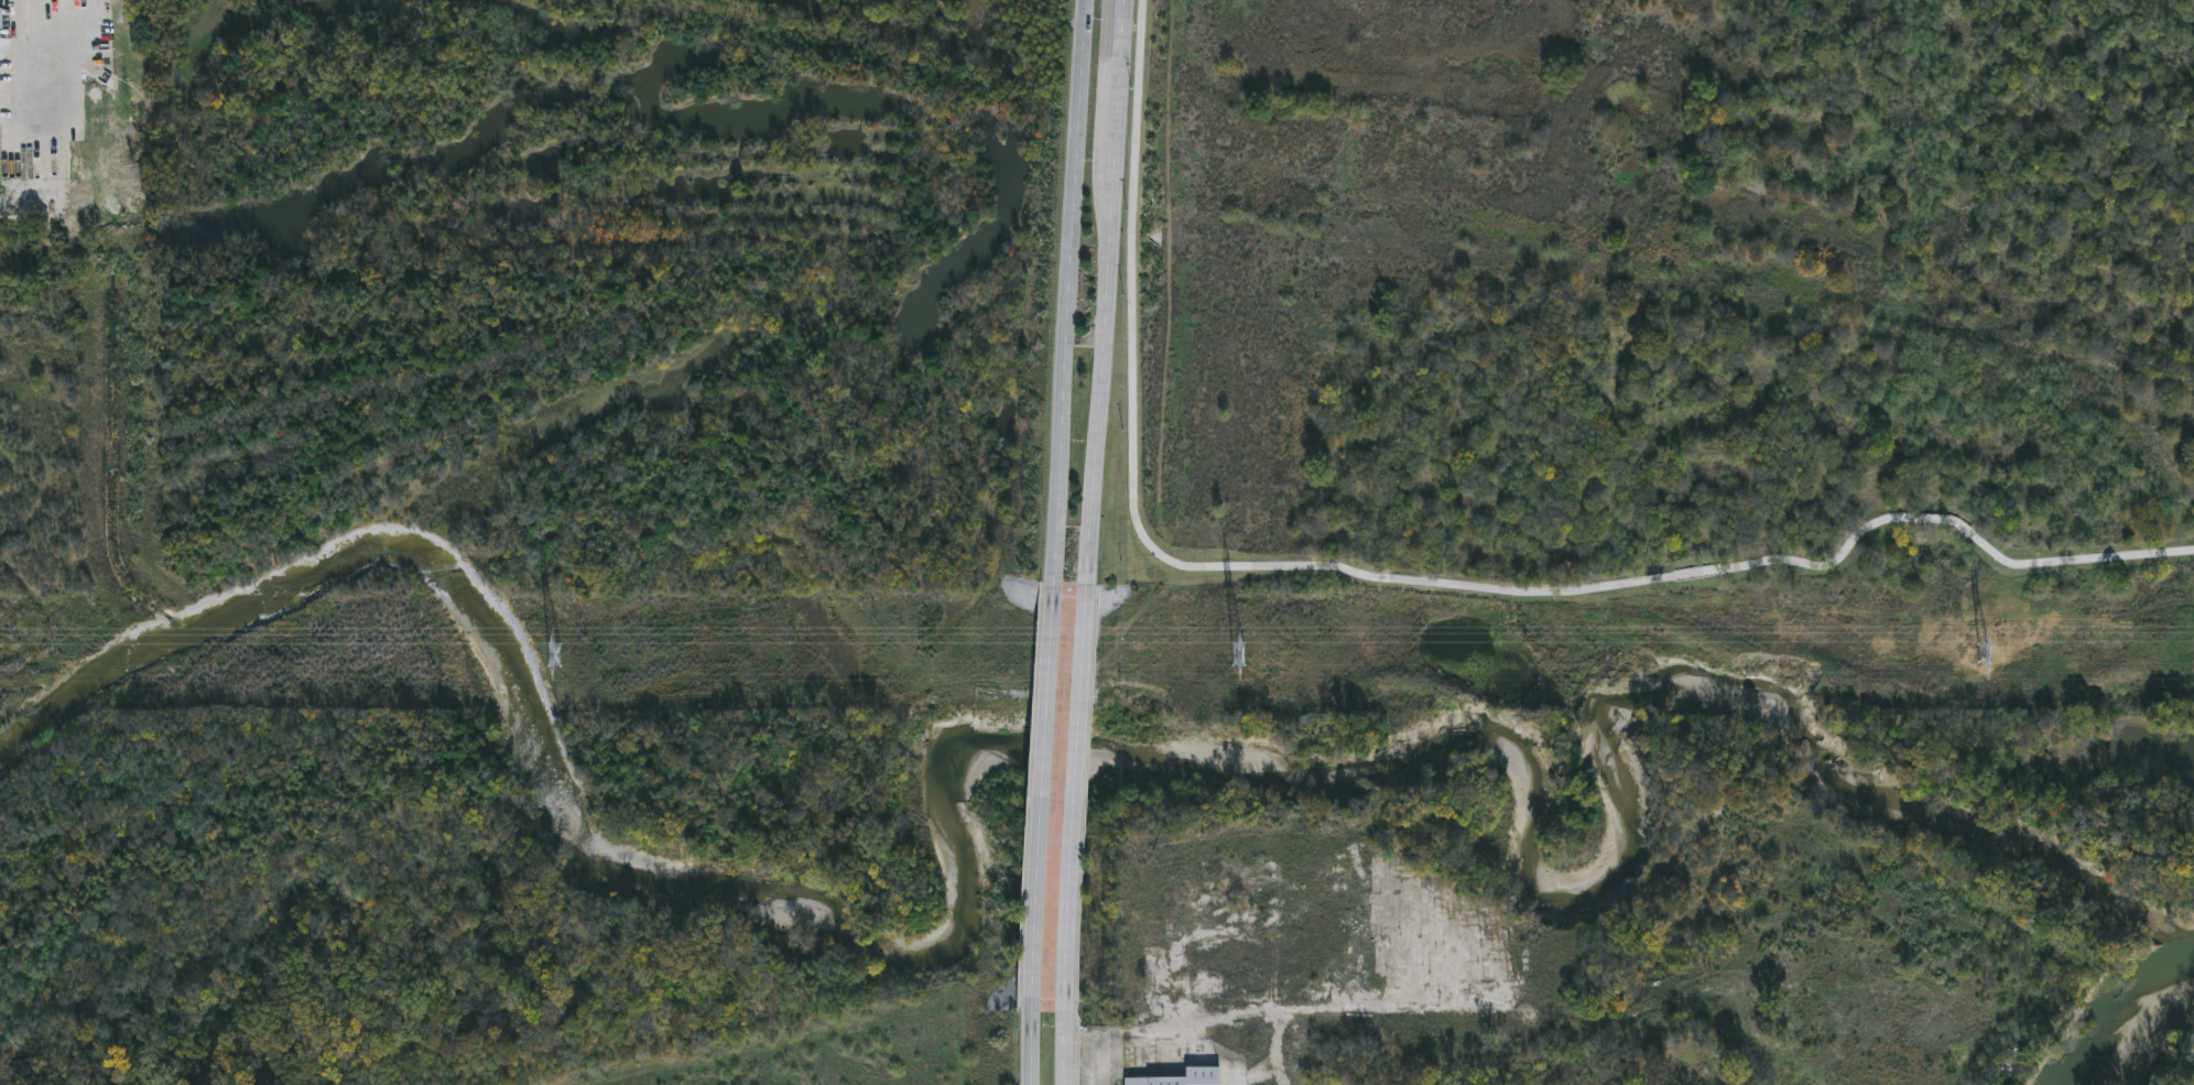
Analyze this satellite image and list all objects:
building: (1, 19)
road: (15, 61)
road: (1107, 294)
road: (1069, 295)
road: (1411, 582)
power tower: (1986, 652)
power tower: (1241, 653)
power tower: (557, 654)
road: (1041, 802)
road: (1078, 803)
river: (2135, 1028)
road: (1029, 1049)
road: (1069, 1051)
building: (1183, 1077)
road: (1071, 1084)

